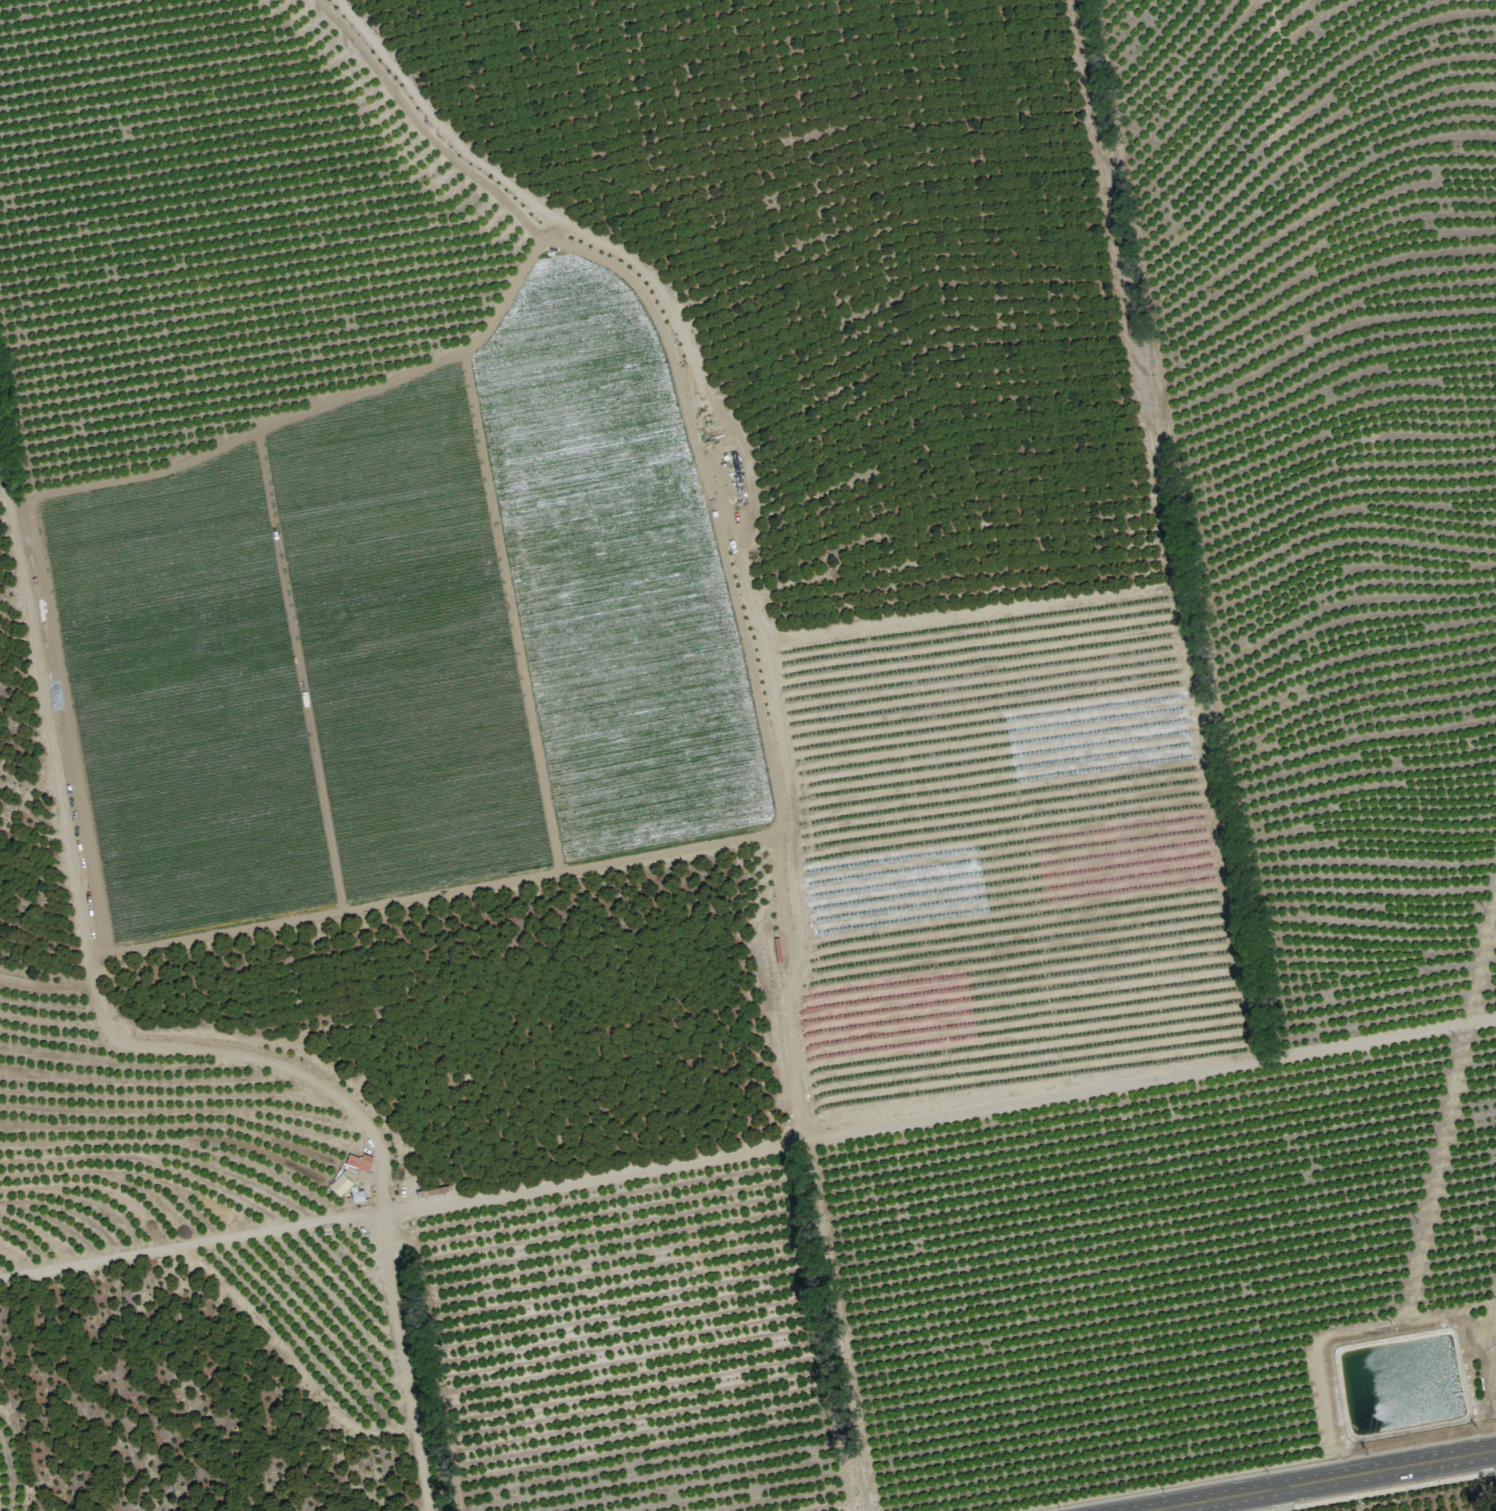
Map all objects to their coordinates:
road: (176, 1048)
building: (359, 1161)
building: (339, 1184)
power tower: (1492, 1343)
road: (1320, 1480)
road: (1388, 1491)
road: (1279, 1499)
road: (1275, 1510)

